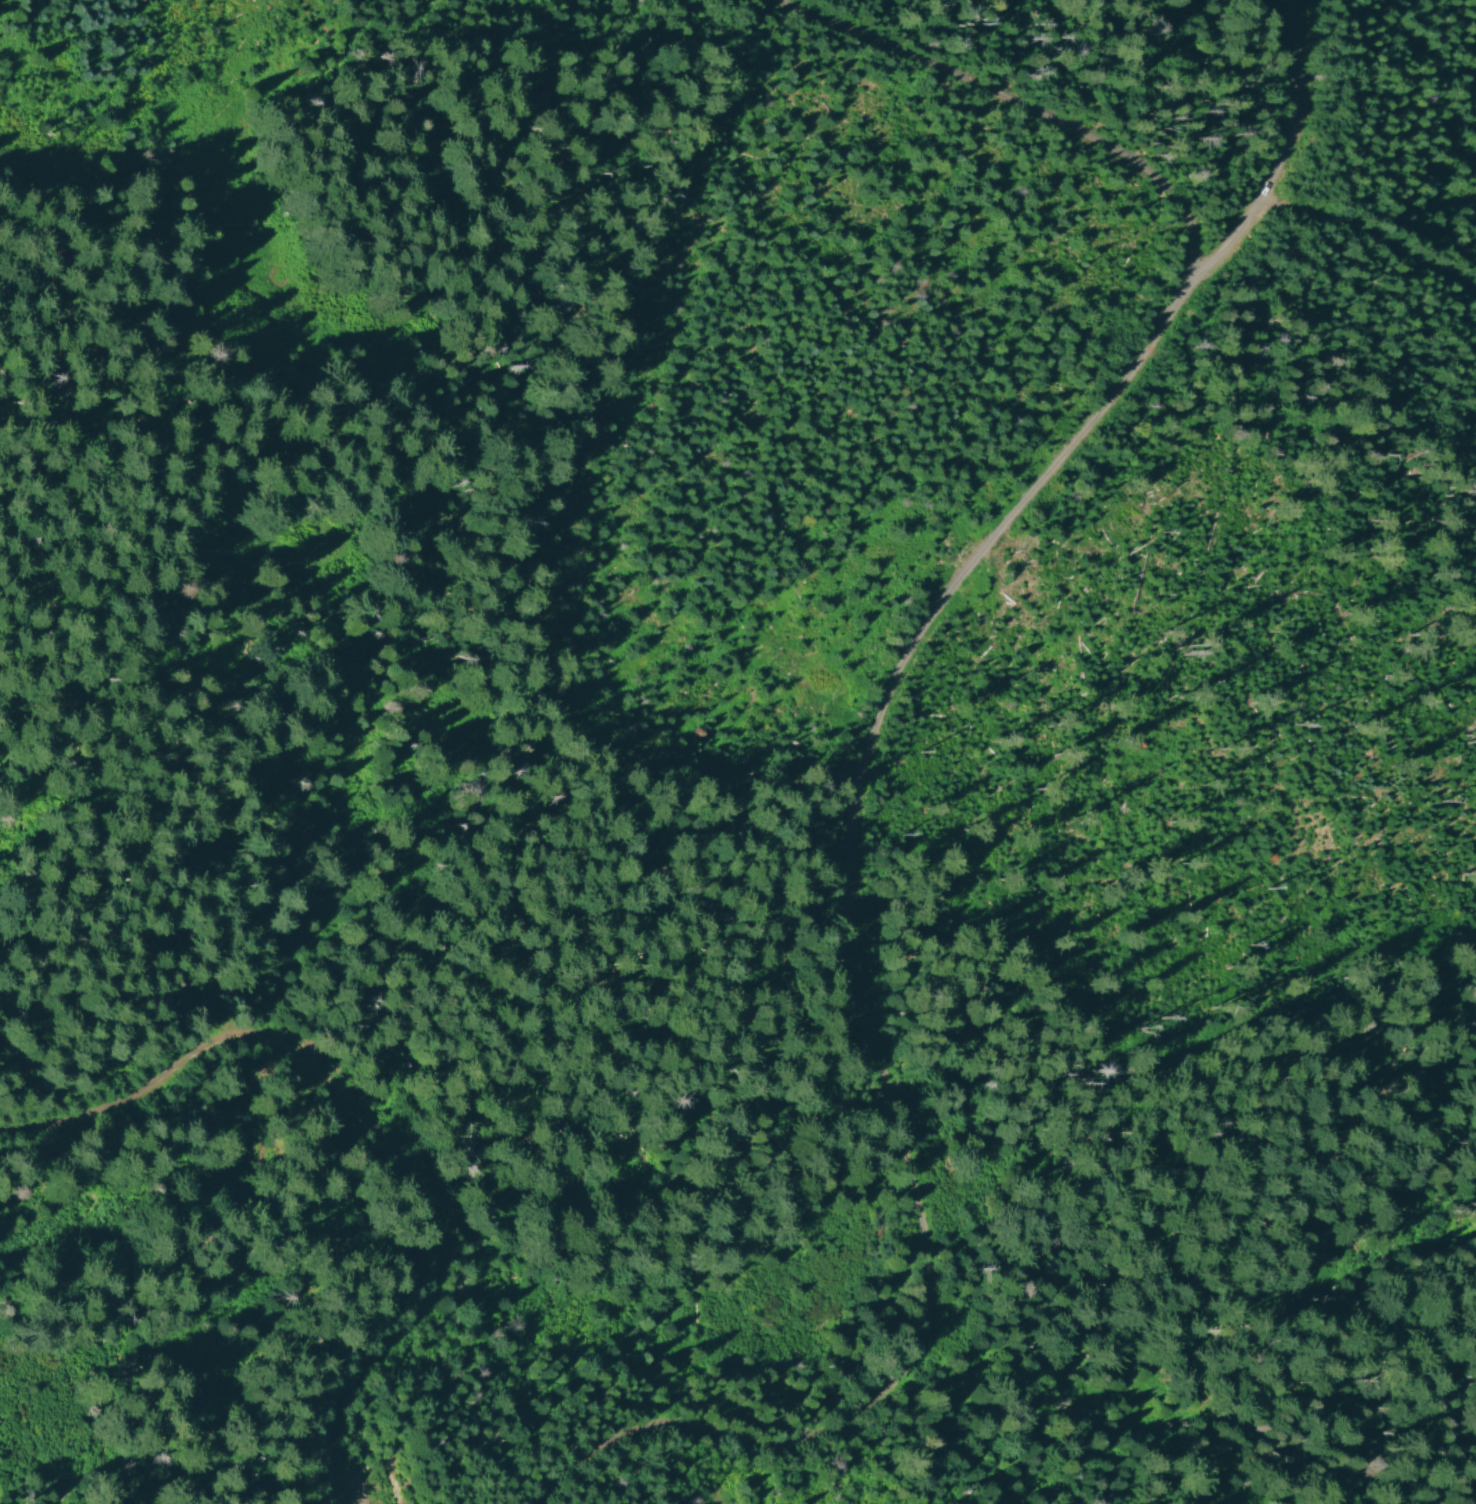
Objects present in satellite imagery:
road: (1024, 106)
parking lot: (1250, 211)
road: (1250, 237)
road: (1362, 243)
road: (835, 822)
road: (373, 1132)

